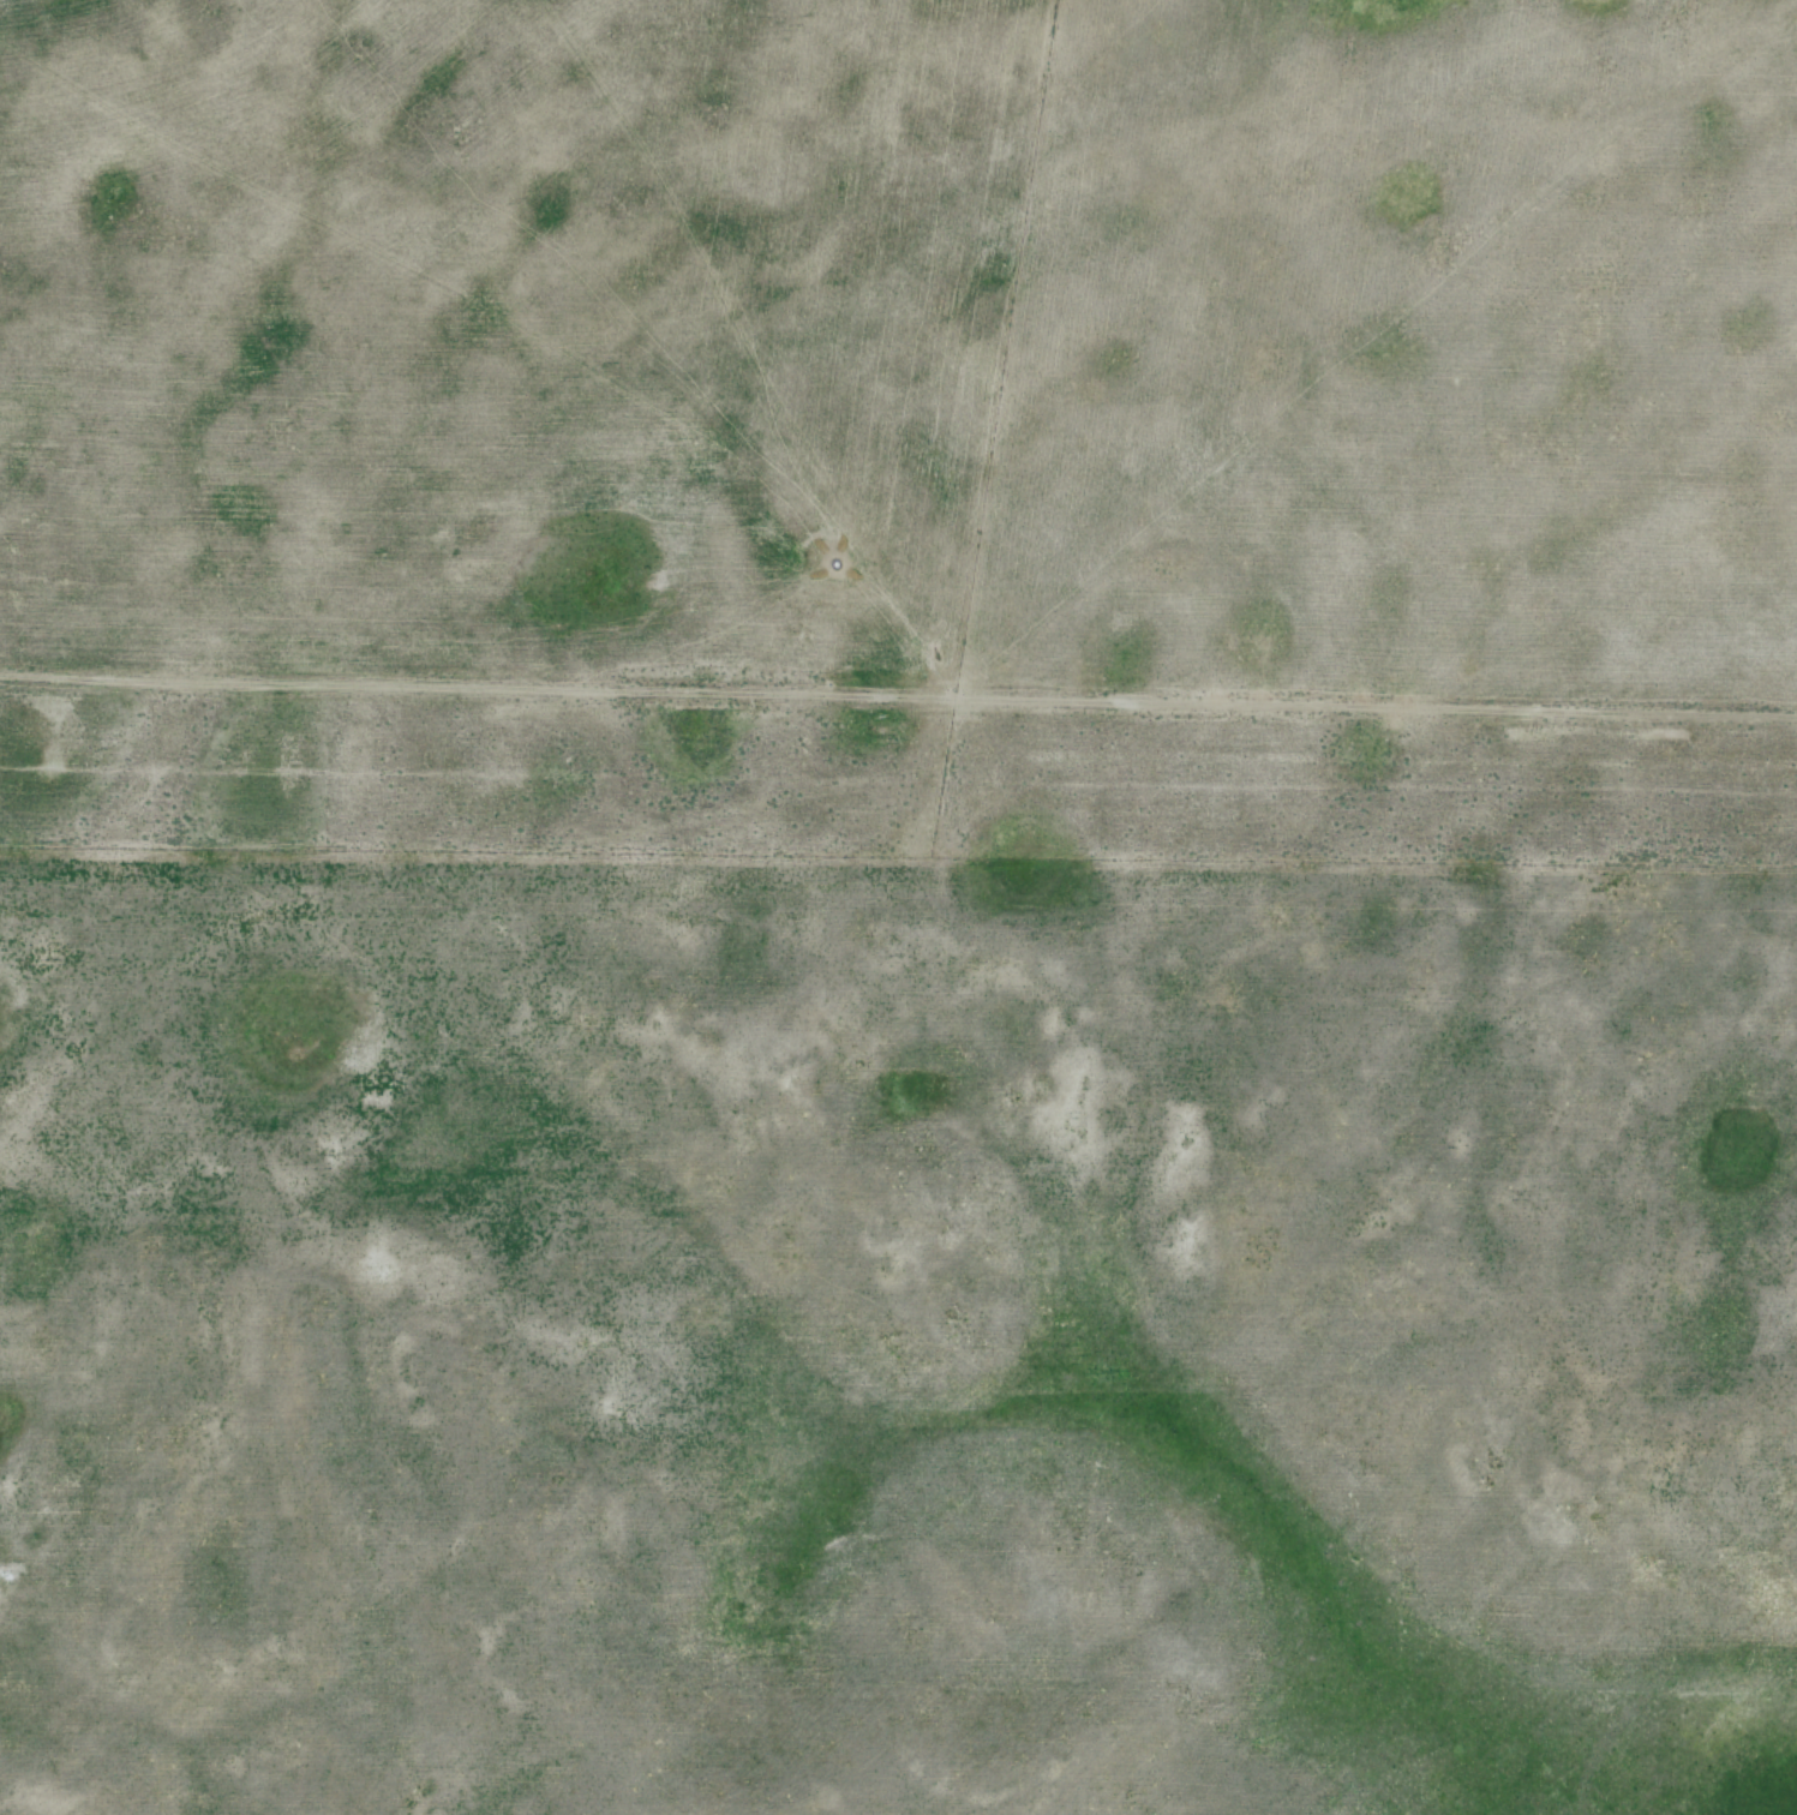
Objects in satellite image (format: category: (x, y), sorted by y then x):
road: (898, 769)

